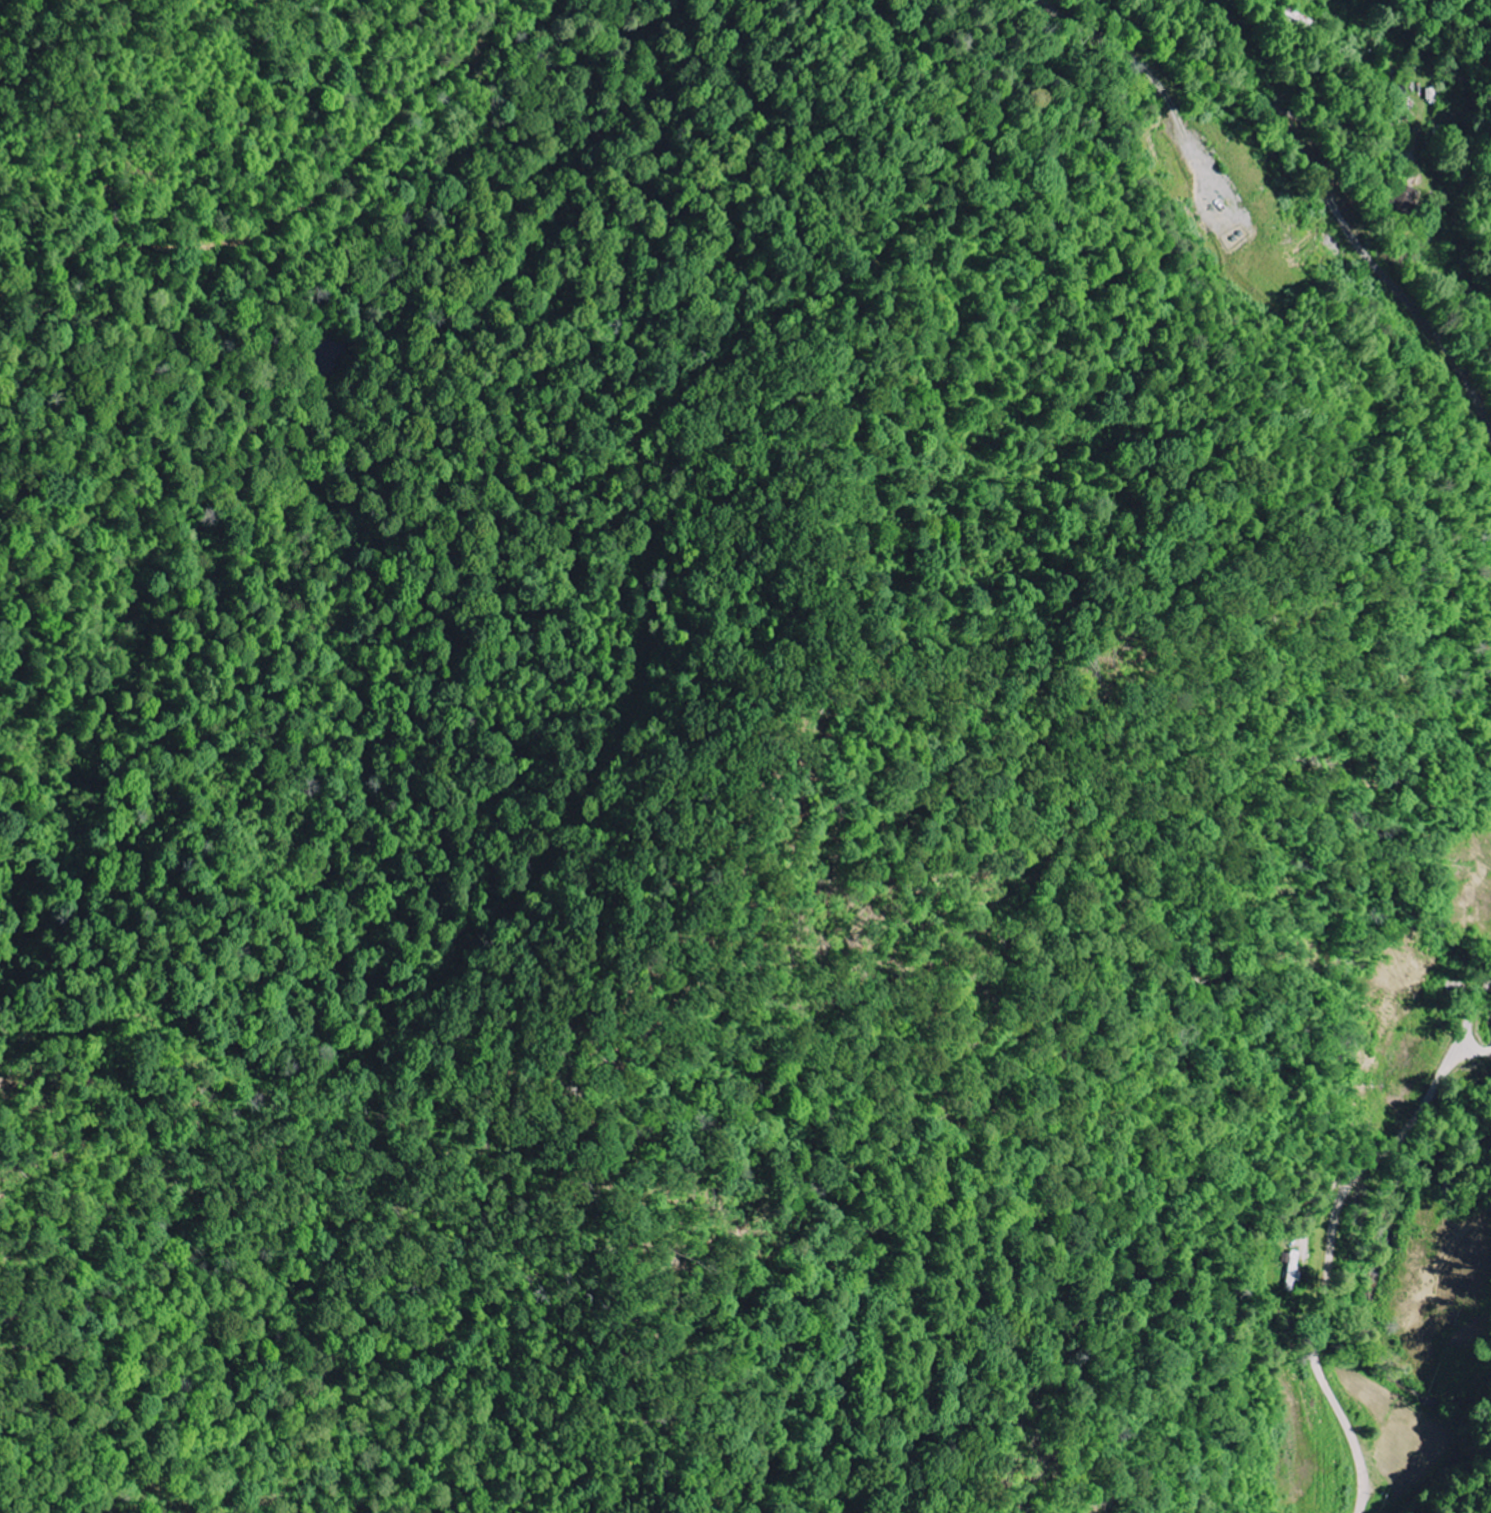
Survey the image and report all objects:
road: (1387, 148)
road: (1311, 170)
road: (270, 185)
road: (1471, 1044)
road: (1334, 1223)

